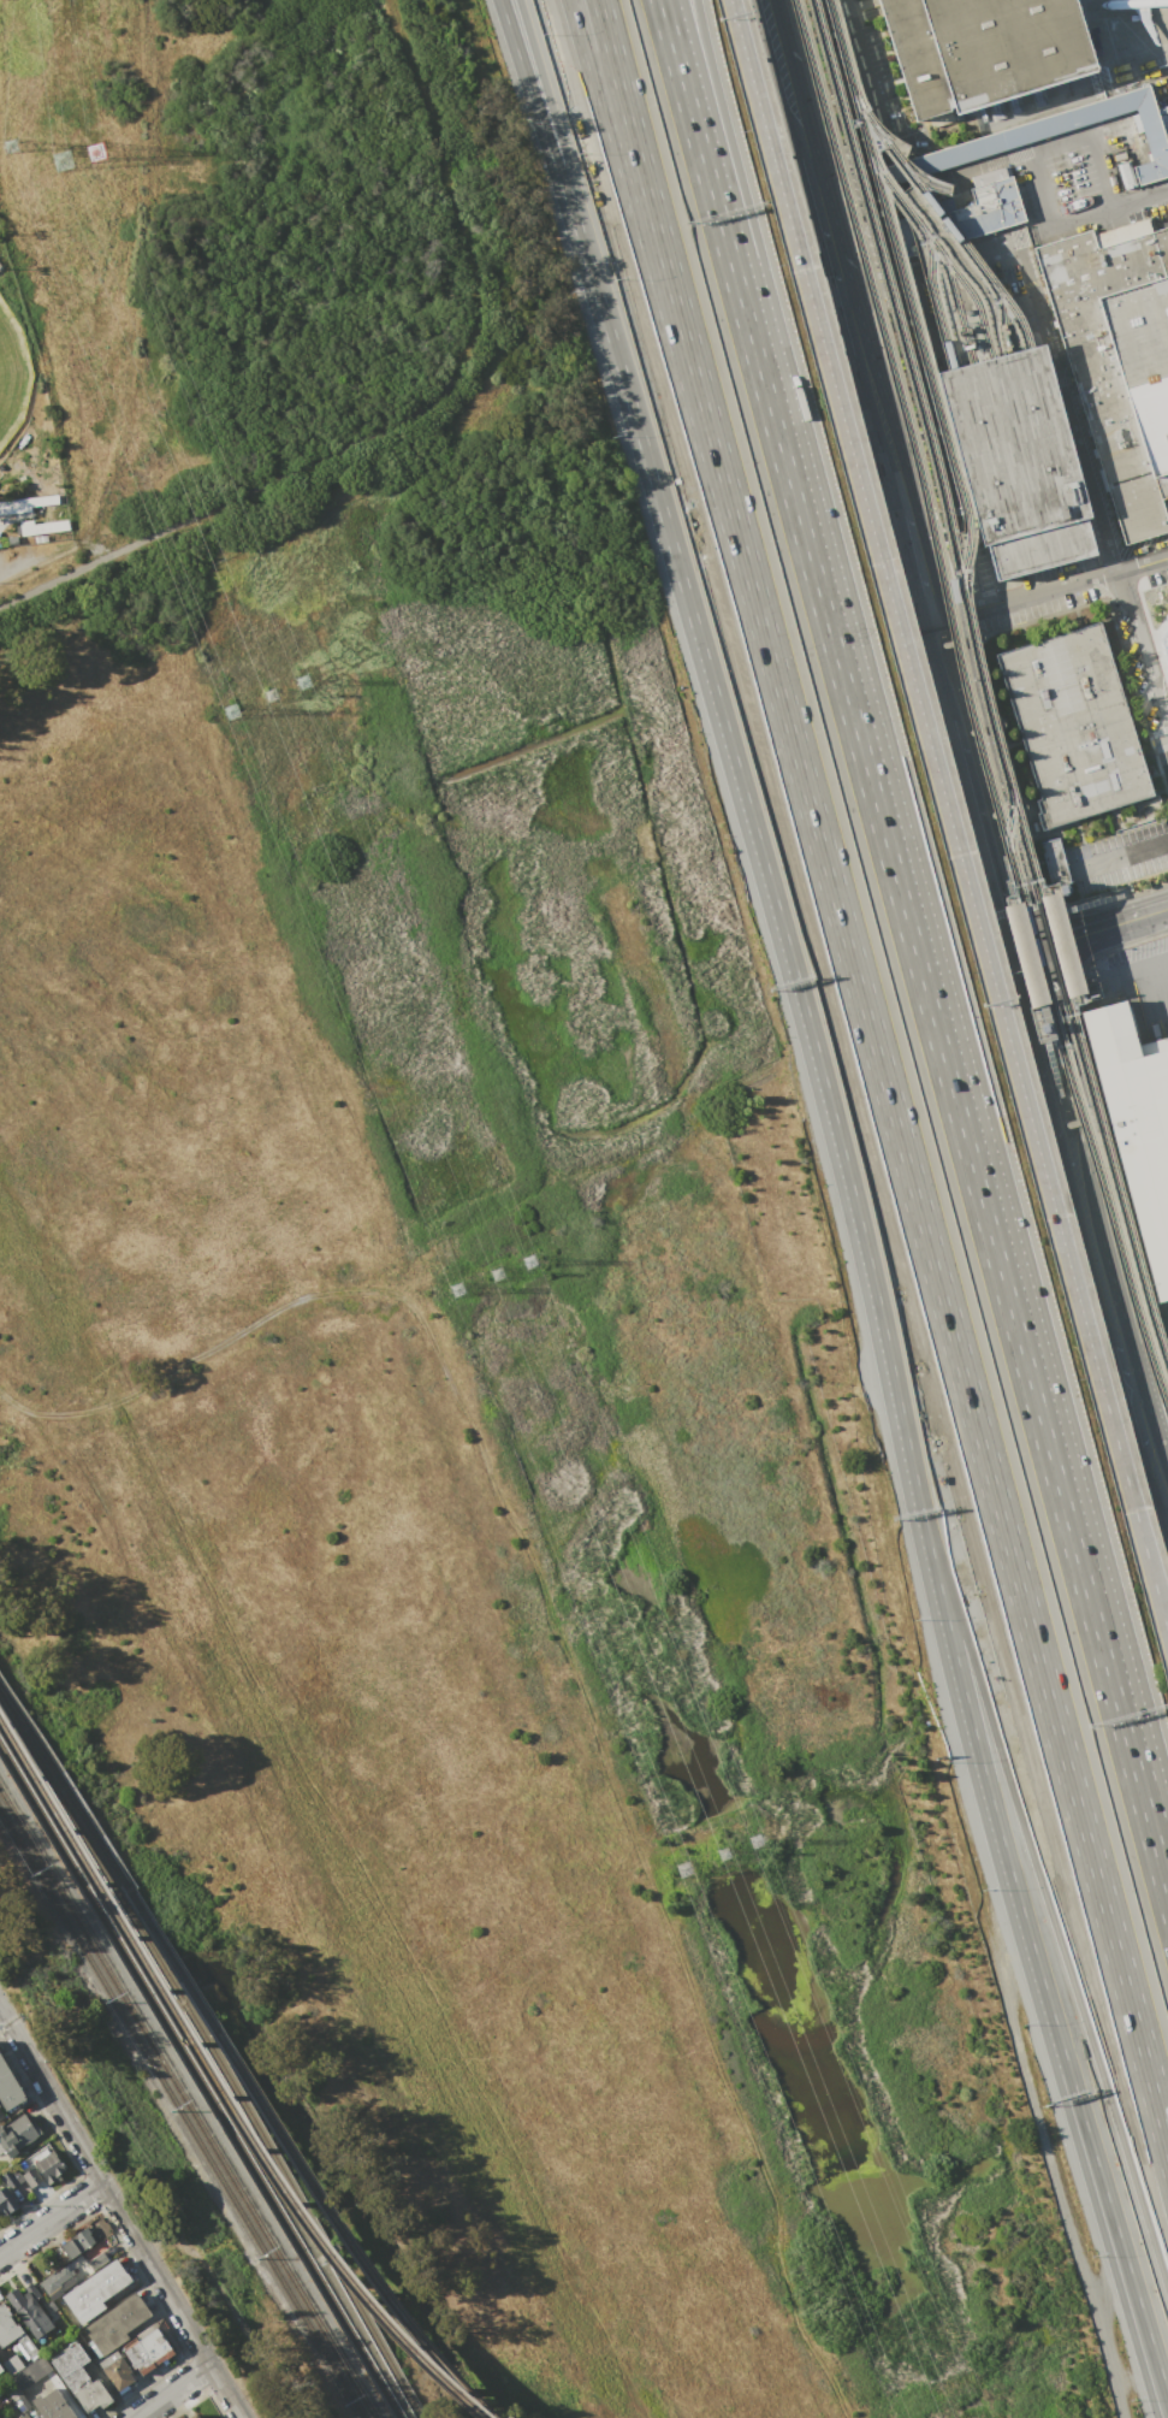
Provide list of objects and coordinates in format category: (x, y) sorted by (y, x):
road: (663, 24)
road: (589, 35)
road: (601, 35)
airport apron: (1128, 35)
building: (980, 49)
road: (787, 78)
road: (861, 88)
road: (533, 94)
road: (540, 94)
road: (622, 114)
road: (712, 132)
power tower: (12, 147)
power tower: (101, 153)
road: (699, 156)
power tower: (66, 171)
building: (891, 173)
road: (861, 206)
road: (1120, 207)
railway: (942, 218)
railway: (937, 252)
road: (832, 255)
road: (931, 279)
road: (144, 280)
railway: (906, 292)
railway: (931, 295)
railway: (954, 308)
railway: (1001, 317)
road: (956, 325)
building: (1117, 357)
park: (11, 373)
railway: (1040, 406)
railway: (1022, 412)
road: (1065, 412)
road: (409, 414)
railway: (1004, 418)
road: (884, 433)
railway: (989, 438)
railway: (971, 443)
building: (1015, 460)
road: (937, 463)
building: (25, 504)
building: (41, 526)
road: (32, 558)
road: (918, 564)
road: (1050, 584)
airport: (1009, 585)
building: (1163, 646)
road: (1140, 656)
road: (932, 667)
power tower: (309, 688)
railway: (982, 688)
power tower: (272, 696)
railway: (970, 708)
power tower: (231, 711)
building: (1071, 725)
road: (950, 739)
road: (996, 773)
railway: (1007, 820)
road: (948, 822)
road: (759, 846)
road: (1122, 856)
road: (982, 857)
building: (1053, 862)
road: (1104, 926)
building: (1060, 942)
traffic signals: (1042, 946)
road: (1025, 951)
building: (1024, 953)
traffic signals: (1008, 956)
road: (1140, 975)
railway: (1085, 998)
railway: (1045, 1009)
road: (948, 1087)
road: (1079, 1088)
road: (1047, 1096)
building: (1136, 1123)
road: (900, 1160)
road: (452, 1236)
power tower: (534, 1265)
power tower: (499, 1277)
power tower: (458, 1289)
road: (1105, 1290)
road: (1126, 1366)
road: (1150, 1383)
road: (1134, 1395)
road: (1142, 1423)
road: (1157, 1471)
road: (562, 1649)
railway: (64, 1790)
power tower: (763, 1846)
power tower: (730, 1866)
power tower: (687, 1873)
road: (1048, 1892)
road: (1021, 1929)
railway: (213, 2056)
railway: (200, 2081)
building: (8, 2087)
railway: (218, 2088)
railway: (186, 2104)
railway: (180, 2115)
building: (18, 2134)
railway: (297, 2162)
building: (48, 2165)
building: (32, 2176)
building: (8, 2180)
building: (6, 2201)
road: (124, 2212)
road: (53, 2219)
building: (77, 2242)
building: (57, 2281)
building: (95, 2293)
building: (30, 2310)
building: (118, 2324)
building: (7, 2327)
building: (149, 2352)
building: (12, 2364)
building: (71, 2366)
building: (1, 2369)
building: (118, 2373)
road: (1156, 2375)
road: (1154, 2379)
road: (174, 2390)
building: (93, 2398)
building: (52, 2405)
building: (24, 2416)
building: (194, 2416)

